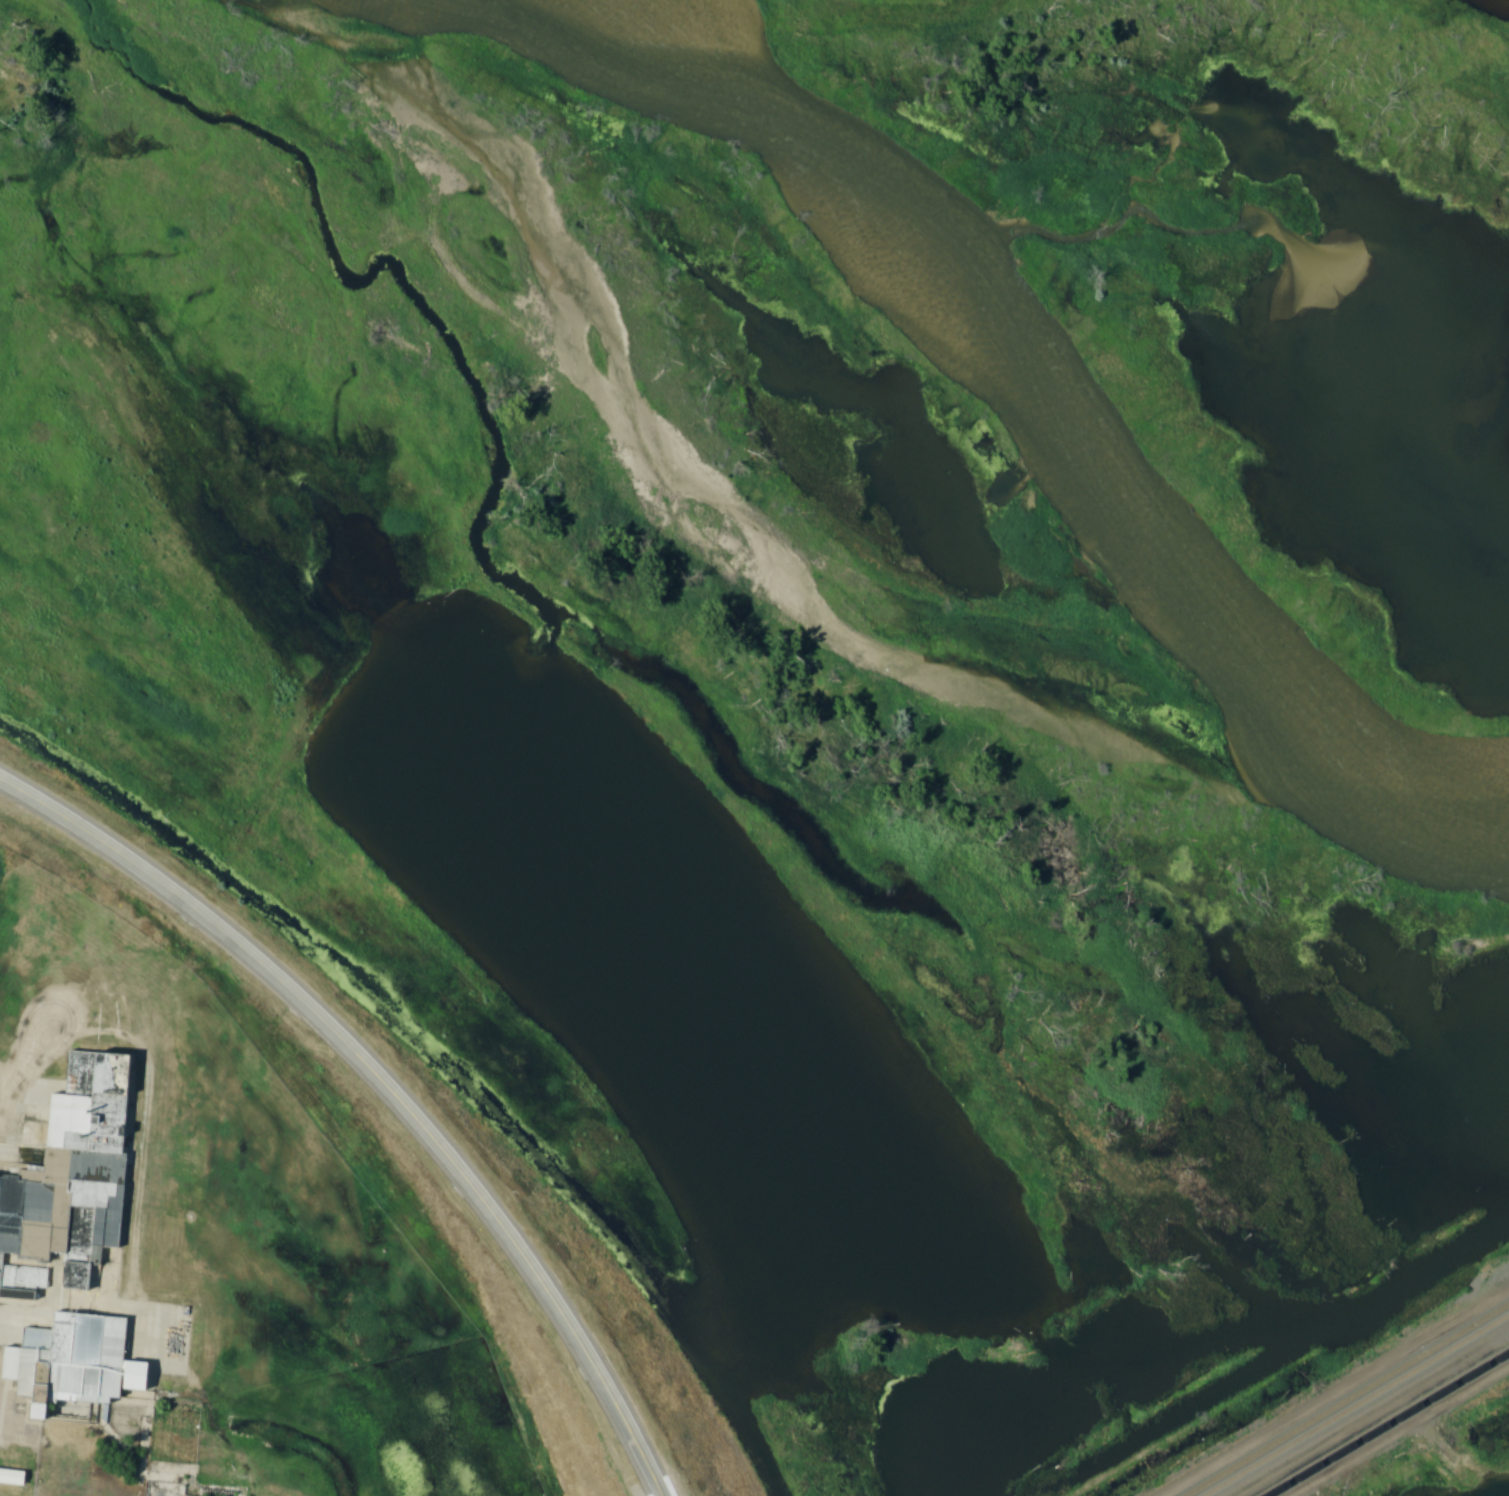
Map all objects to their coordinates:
river: (1039, 417)
road: (30, 1057)
road: (387, 1084)
building: (74, 1245)
railway: (1349, 1400)
railway: (1359, 1407)
railway: (1388, 1424)
building: (13, 1477)
building: (232, 1492)

